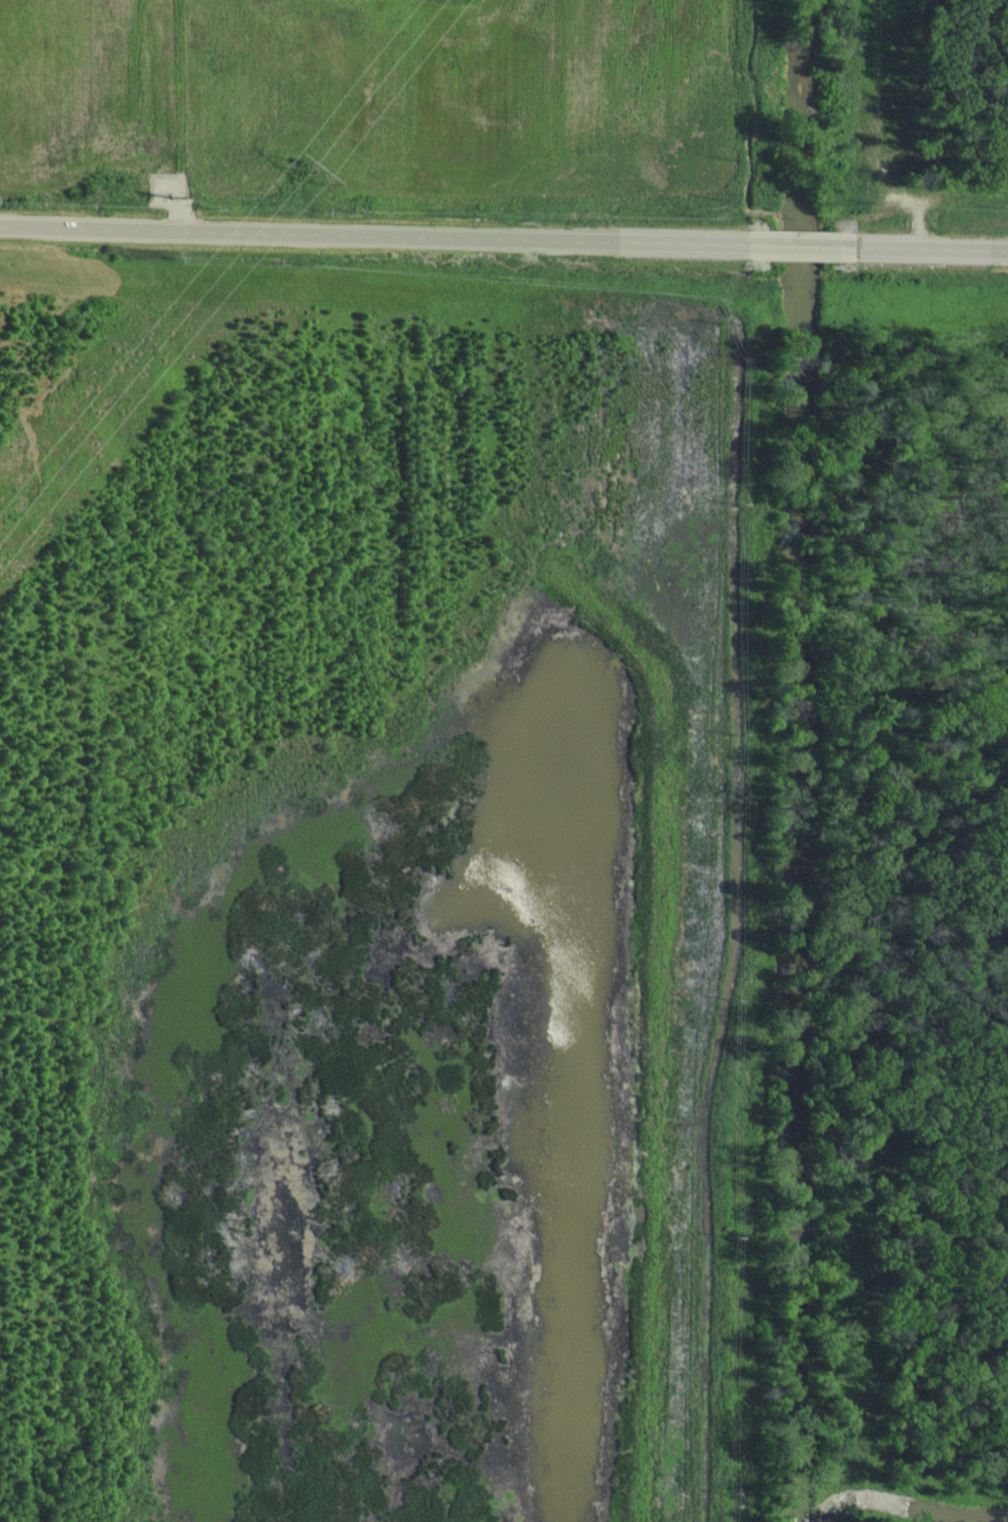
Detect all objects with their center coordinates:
power tower: (300, 167)
road: (503, 237)

